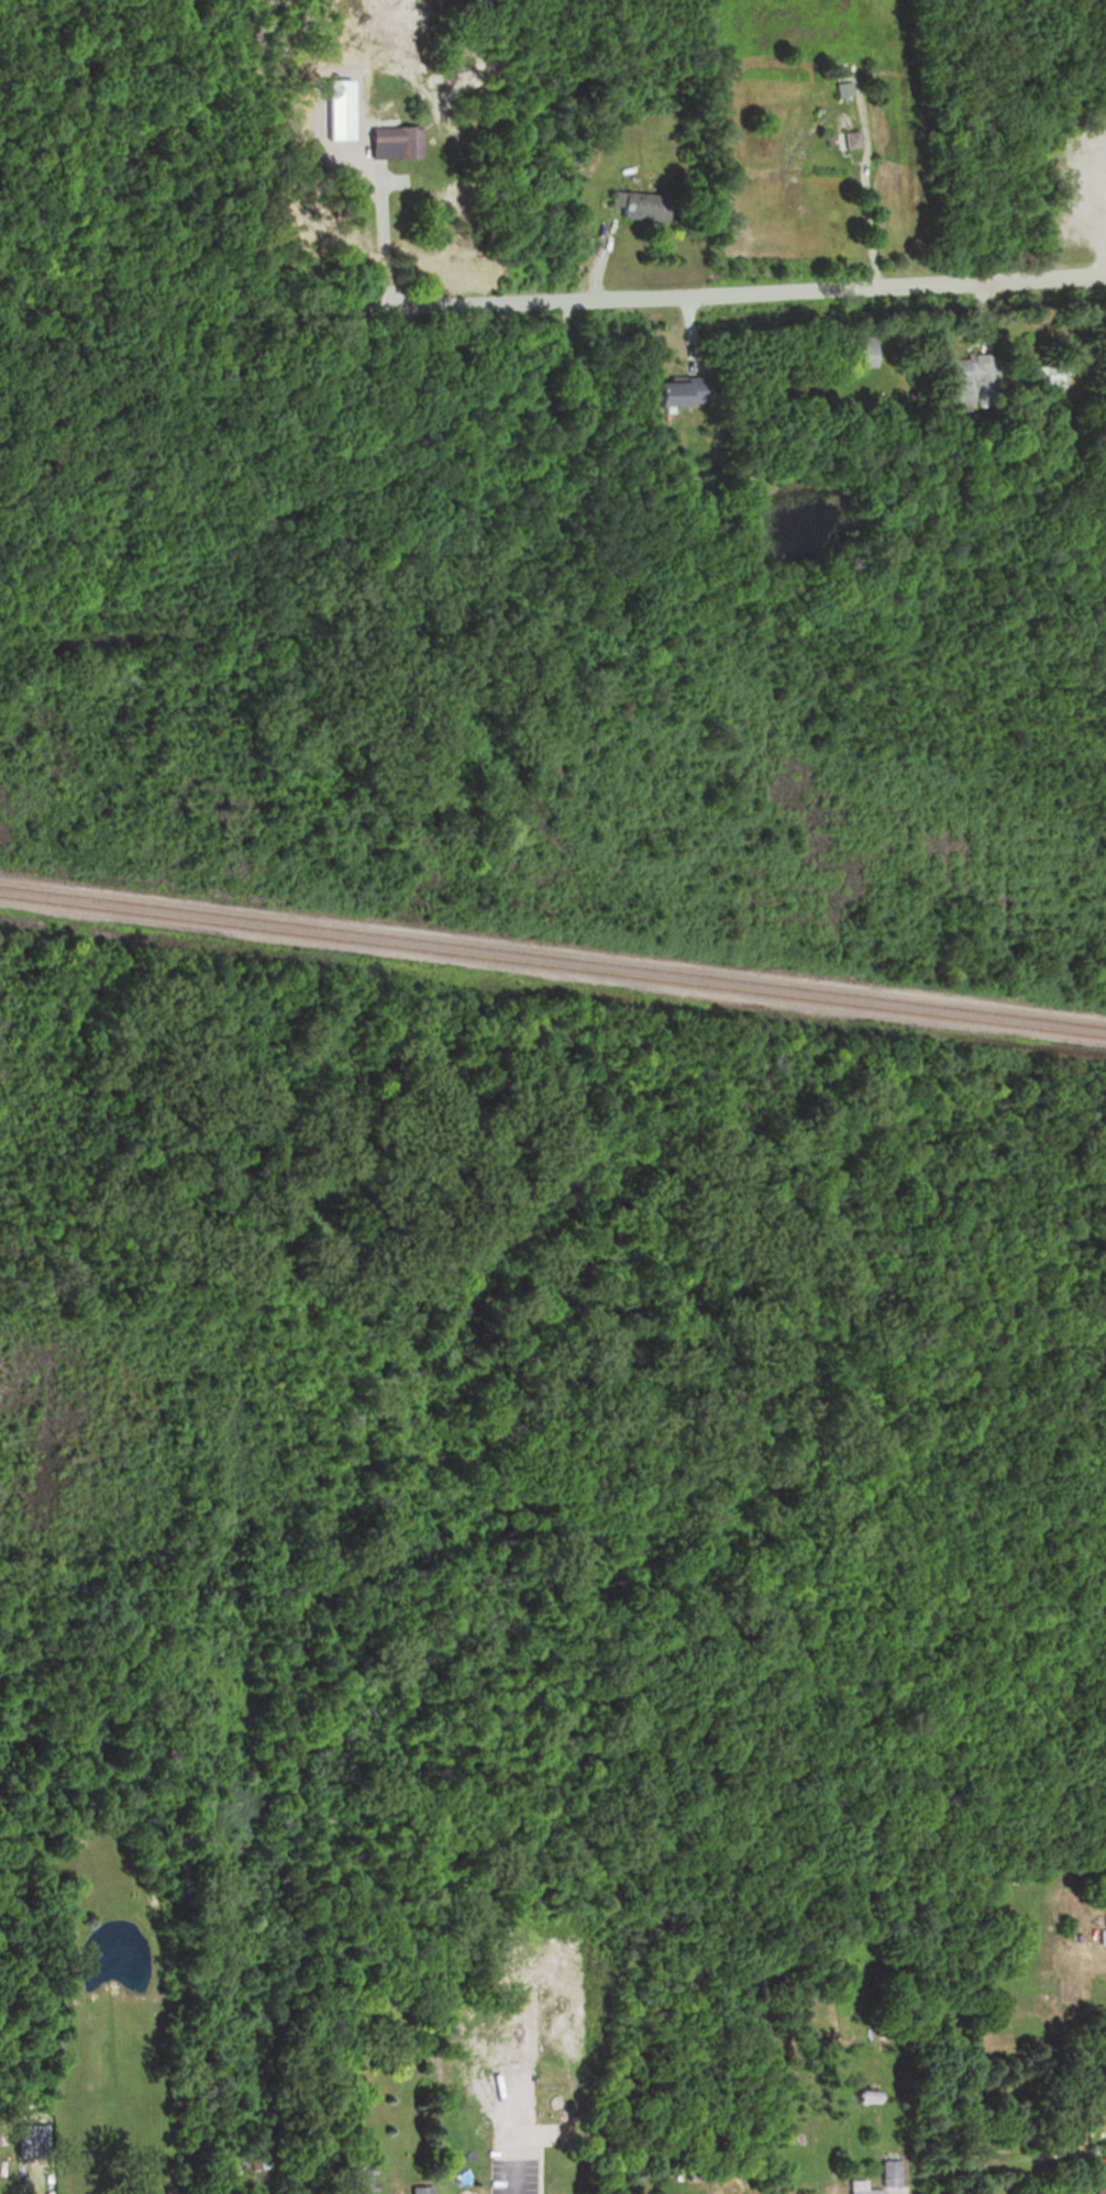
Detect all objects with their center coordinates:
building: (383, 36)
building: (840, 89)
building: (338, 109)
building: (848, 140)
building: (388, 142)
building: (637, 206)
road: (384, 242)
road: (675, 296)
building: (855, 350)
building: (1044, 372)
building: (970, 377)
building: (672, 390)
railway: (553, 955)
railway: (552, 966)
building: (1103, 1920)
building: (1099, 1938)
building: (24, 2141)
building: (886, 2173)
road: (512, 2174)
building: (856, 2187)
building: (1099, 2189)
building: (417, 2190)

